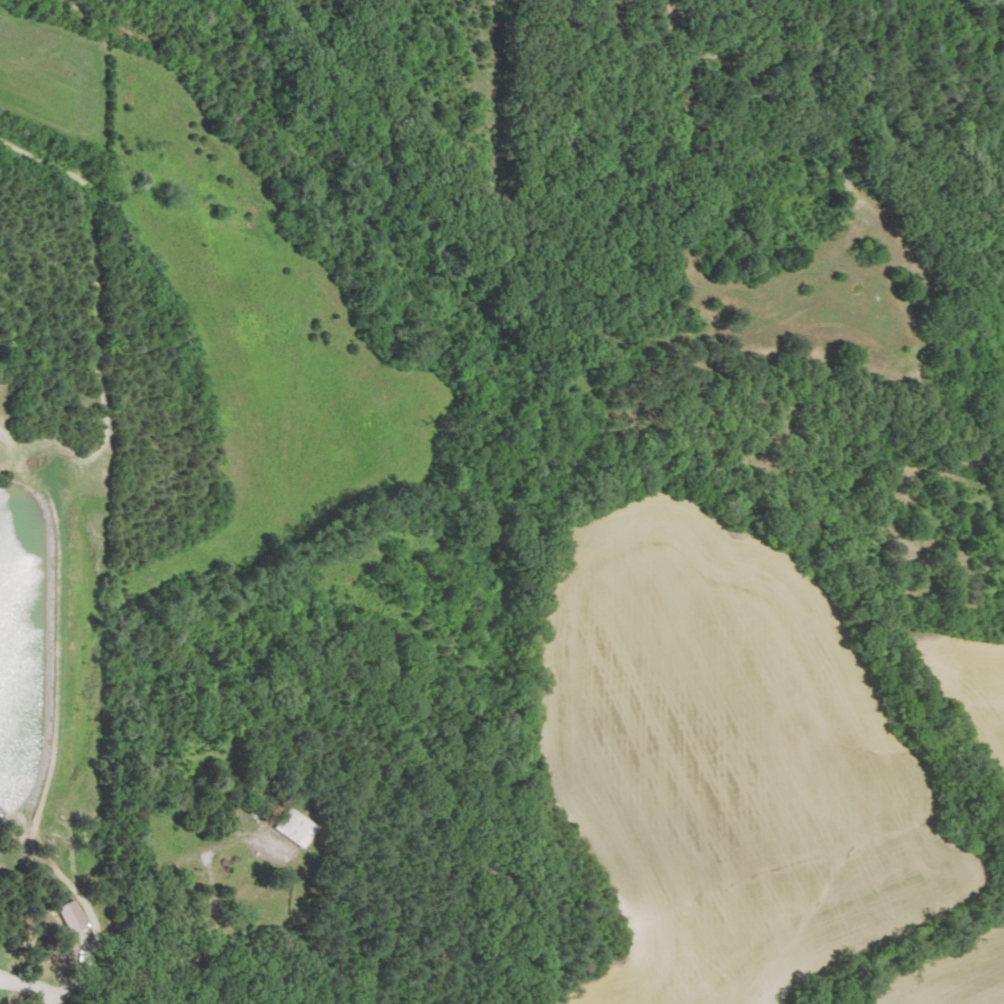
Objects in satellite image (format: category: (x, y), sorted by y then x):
building: (284, 827)
road: (58, 1002)

